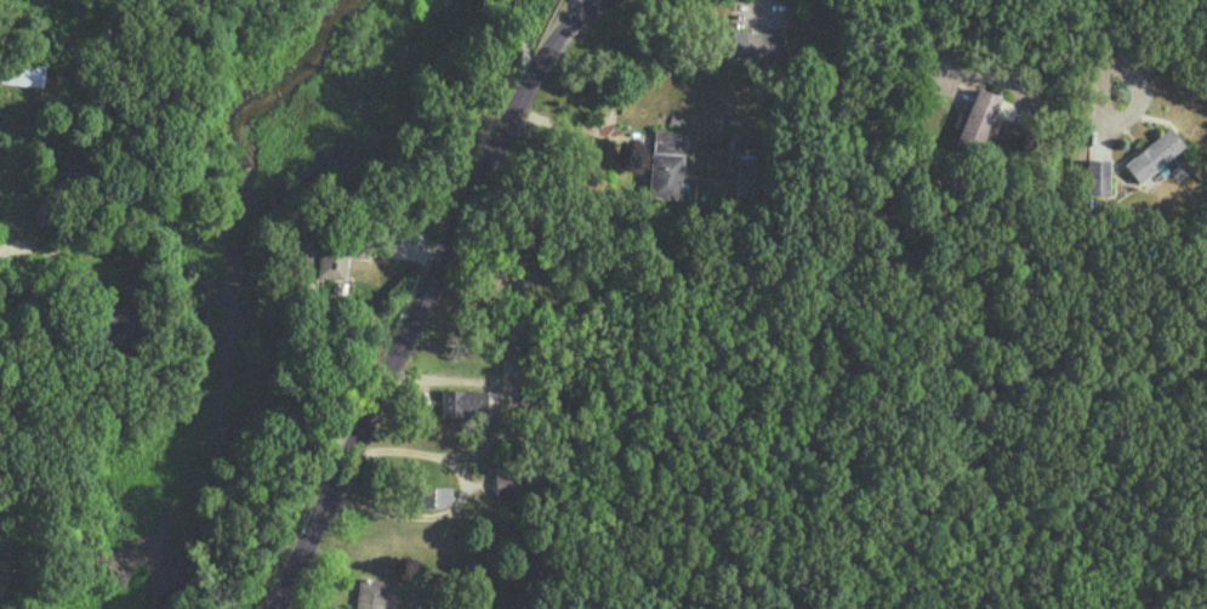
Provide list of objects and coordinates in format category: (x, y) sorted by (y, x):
road: (576, 8)
road: (1106, 27)
road: (523, 44)
building: (756, 44)
road: (946, 63)
building: (21, 70)
building: (1004, 108)
road: (1122, 118)
building: (977, 119)
building: (1152, 153)
building: (666, 163)
building: (1097, 176)
building: (46, 214)
road: (4, 244)
building: (337, 257)
road: (421, 296)
road: (505, 383)
building: (461, 400)
building: (503, 483)
road: (460, 494)
building: (433, 495)
park: (170, 570)
building: (369, 592)
building: (355, 608)

